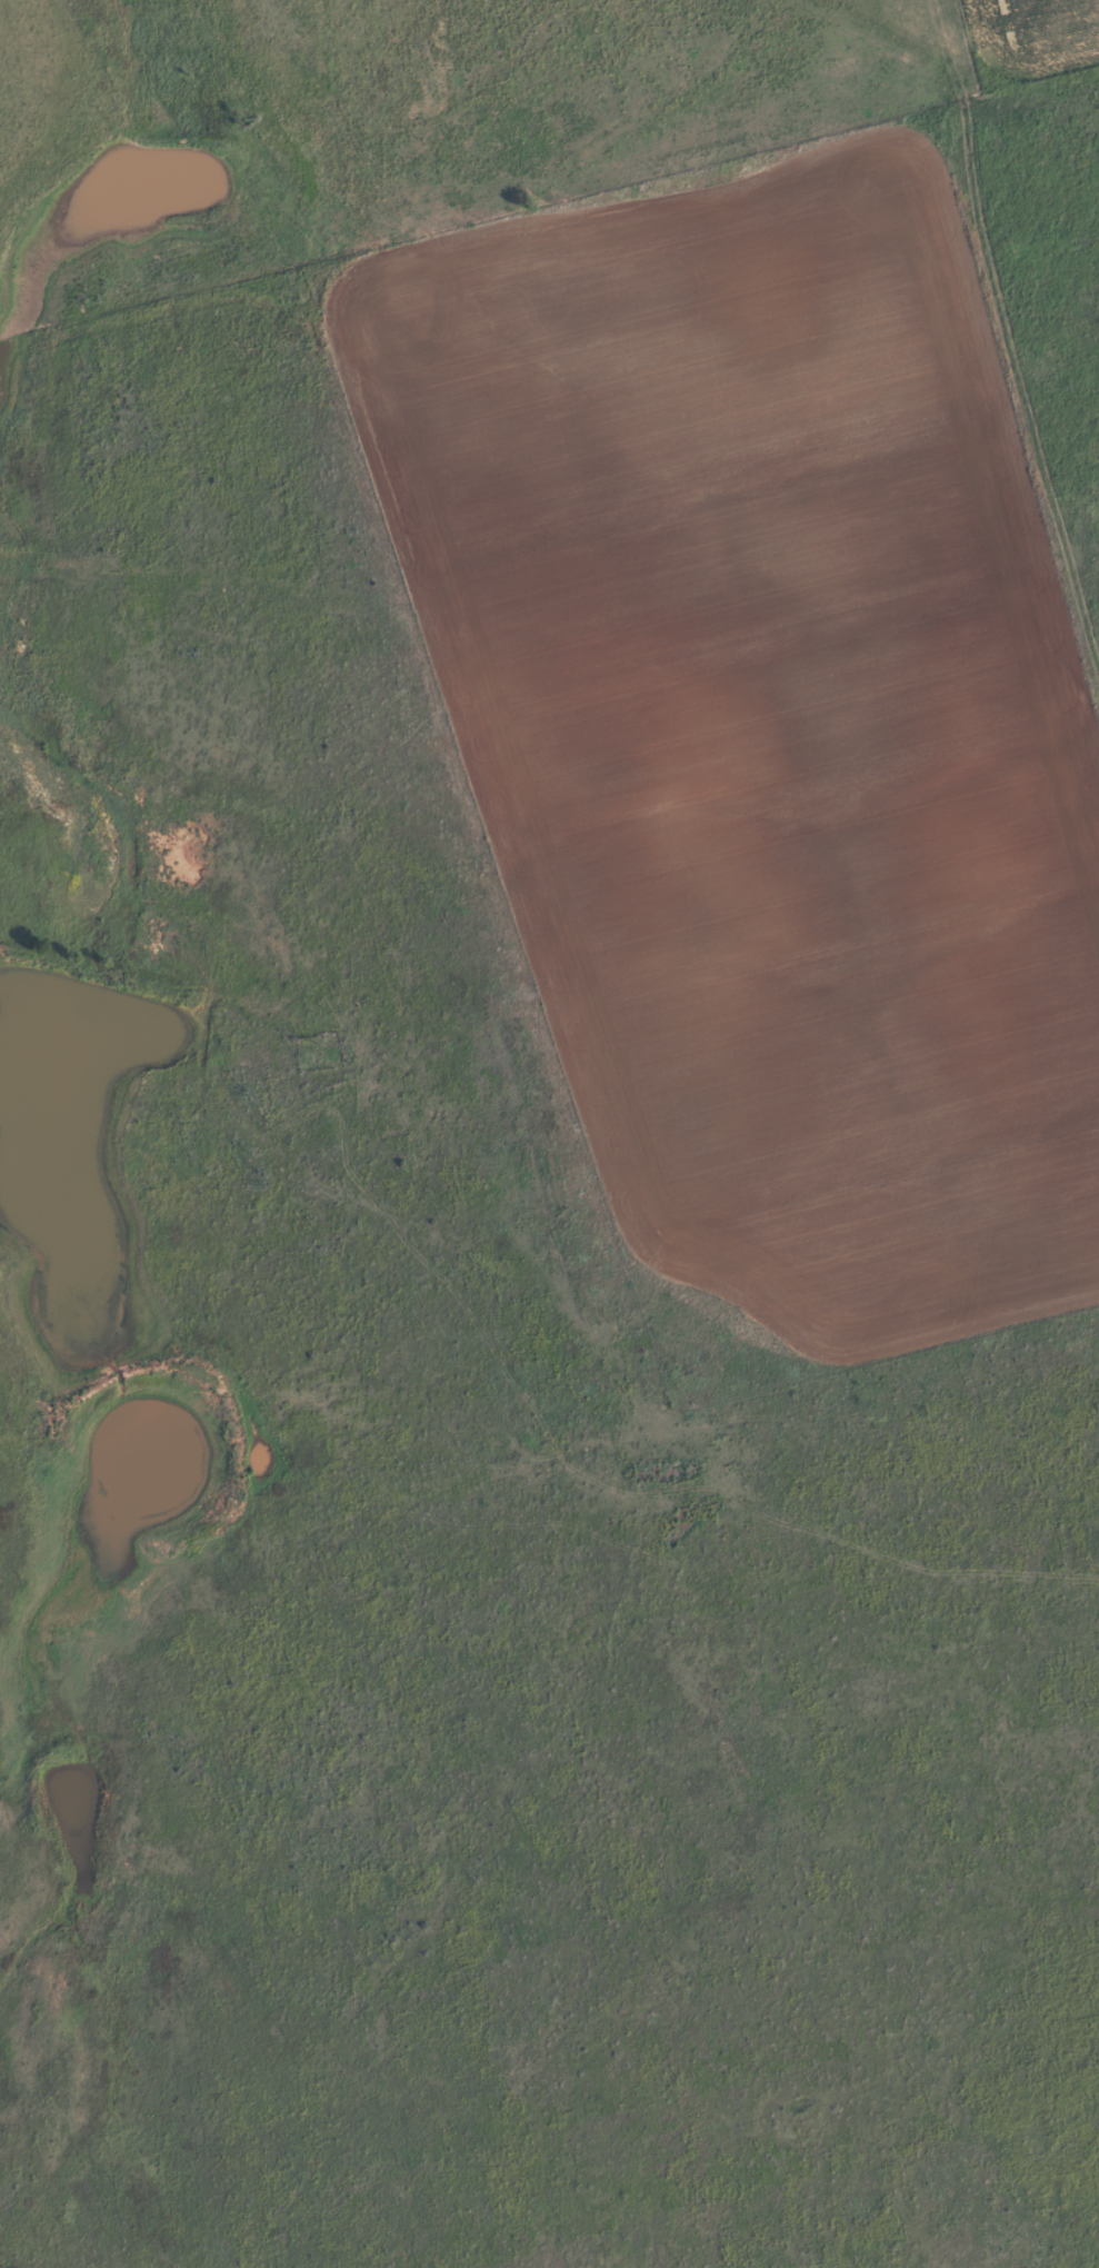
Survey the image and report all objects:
road: (660, 1381)

